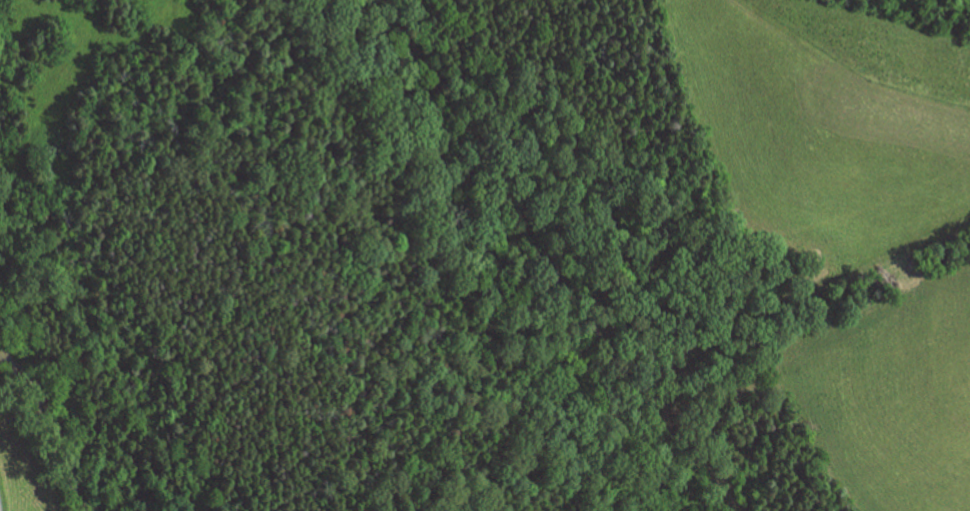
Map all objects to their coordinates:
road: (848, 70)

